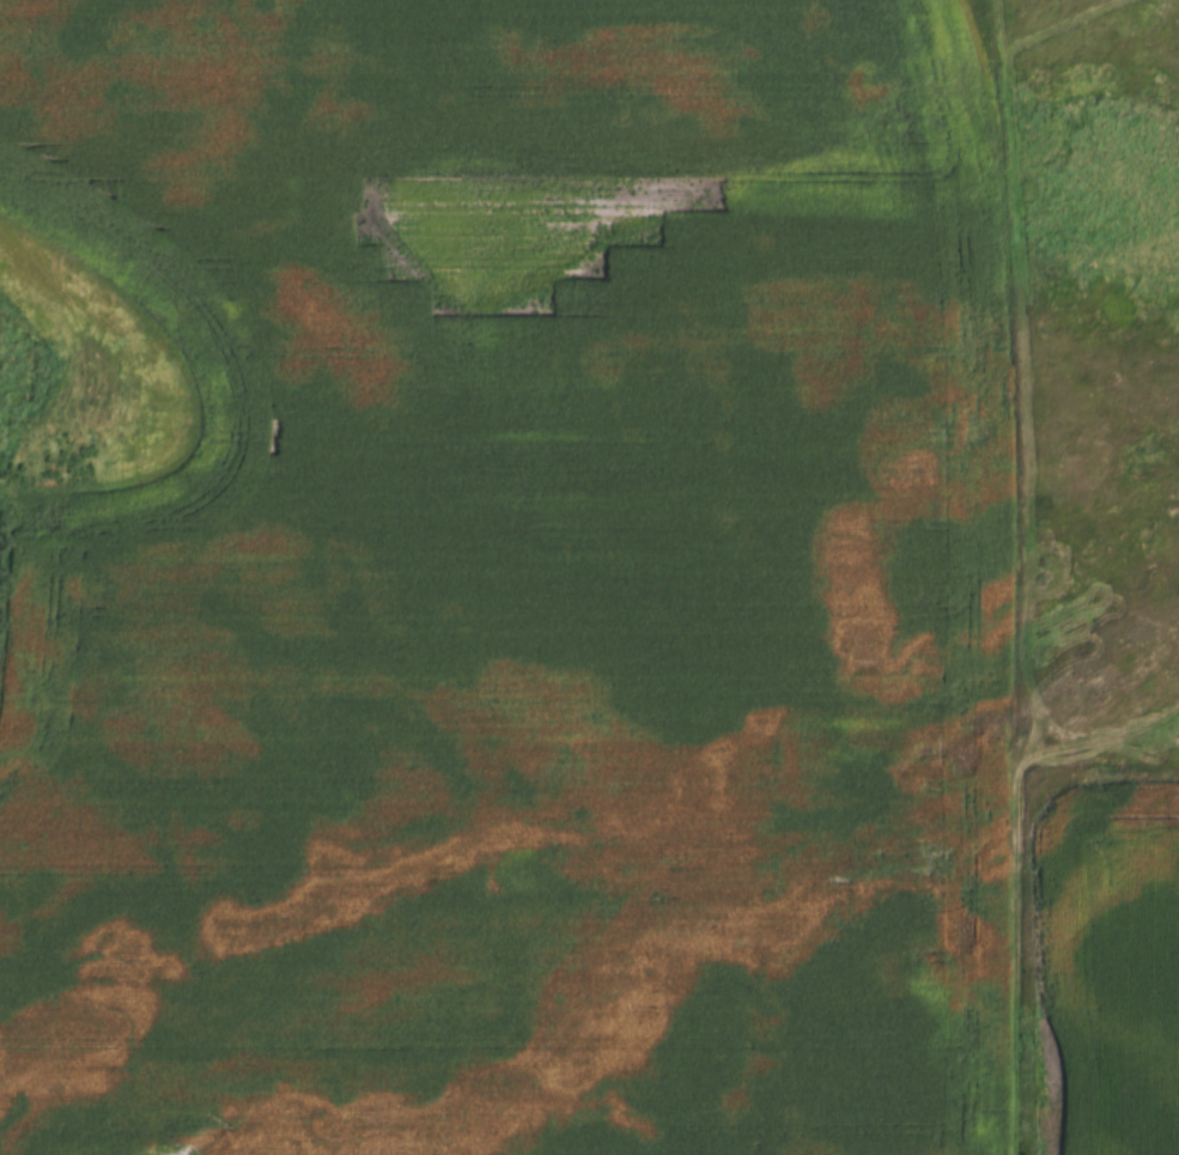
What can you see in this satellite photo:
building: (0, 677)

